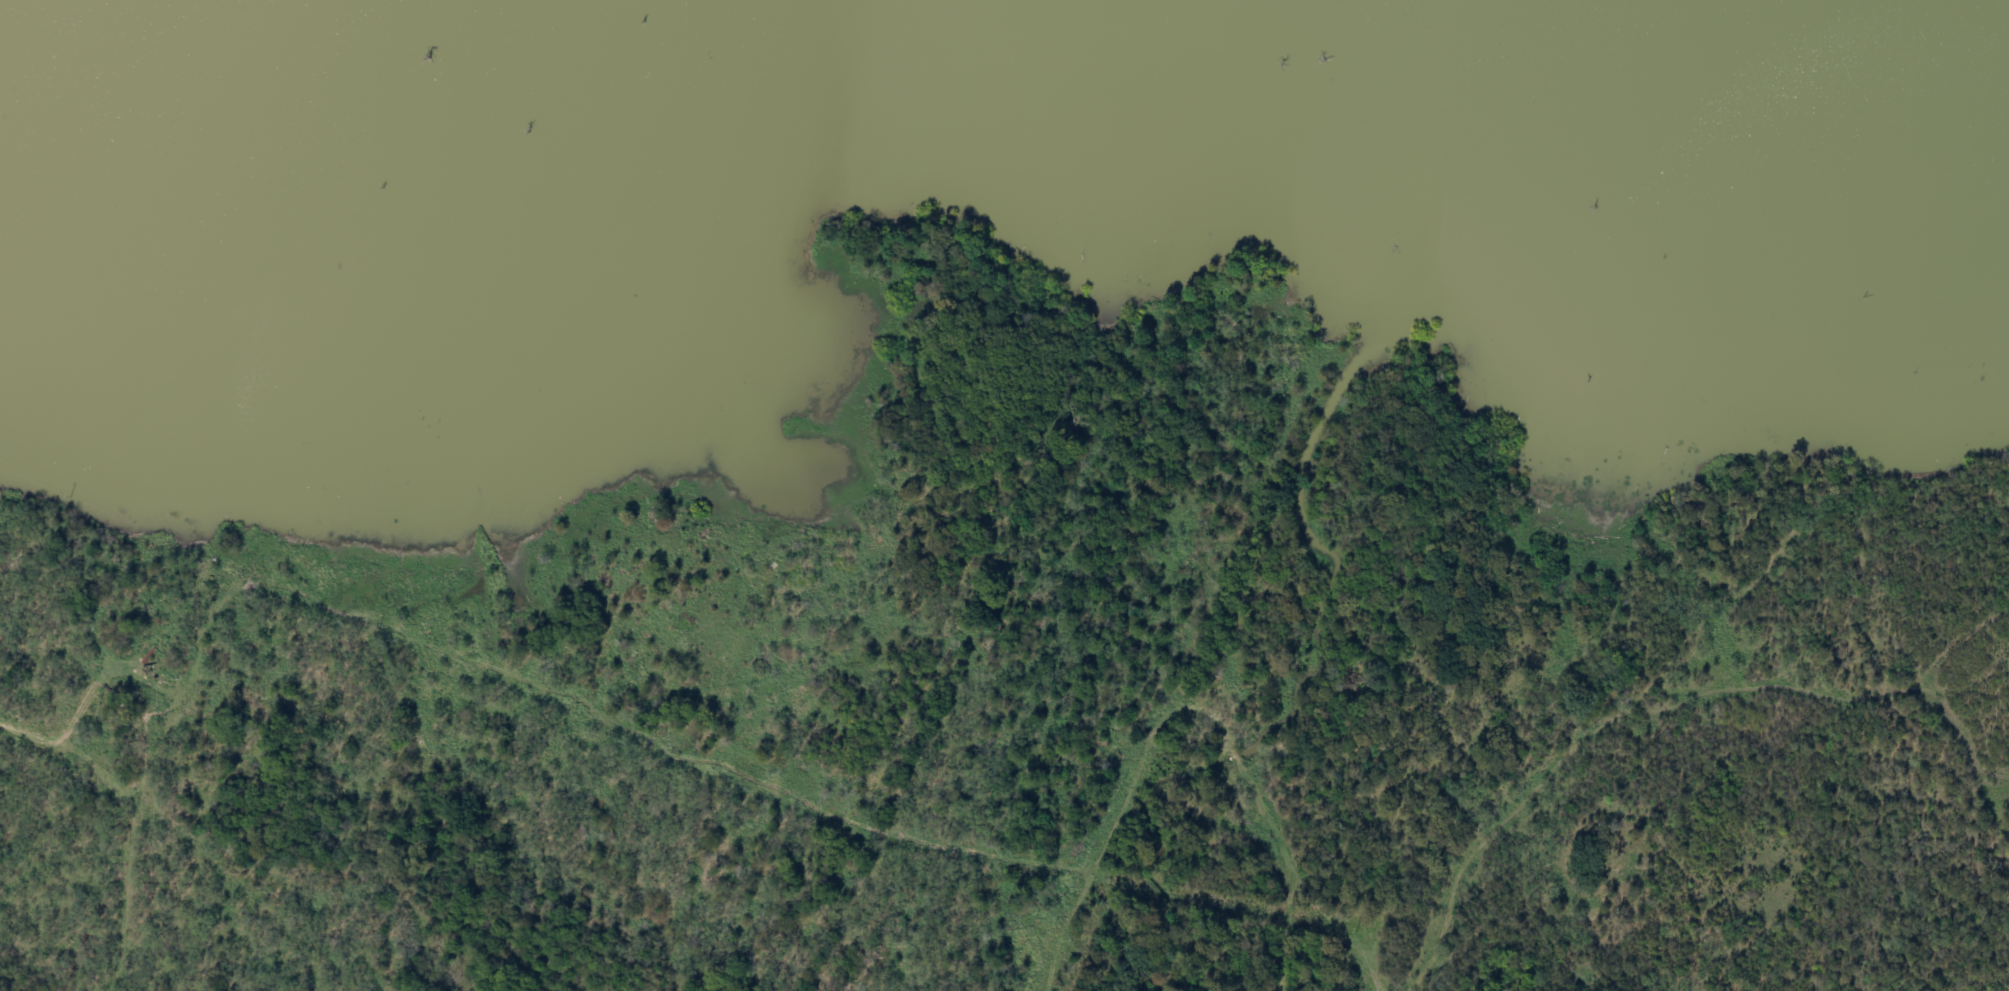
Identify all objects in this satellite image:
road: (63, 732)
road: (127, 846)

